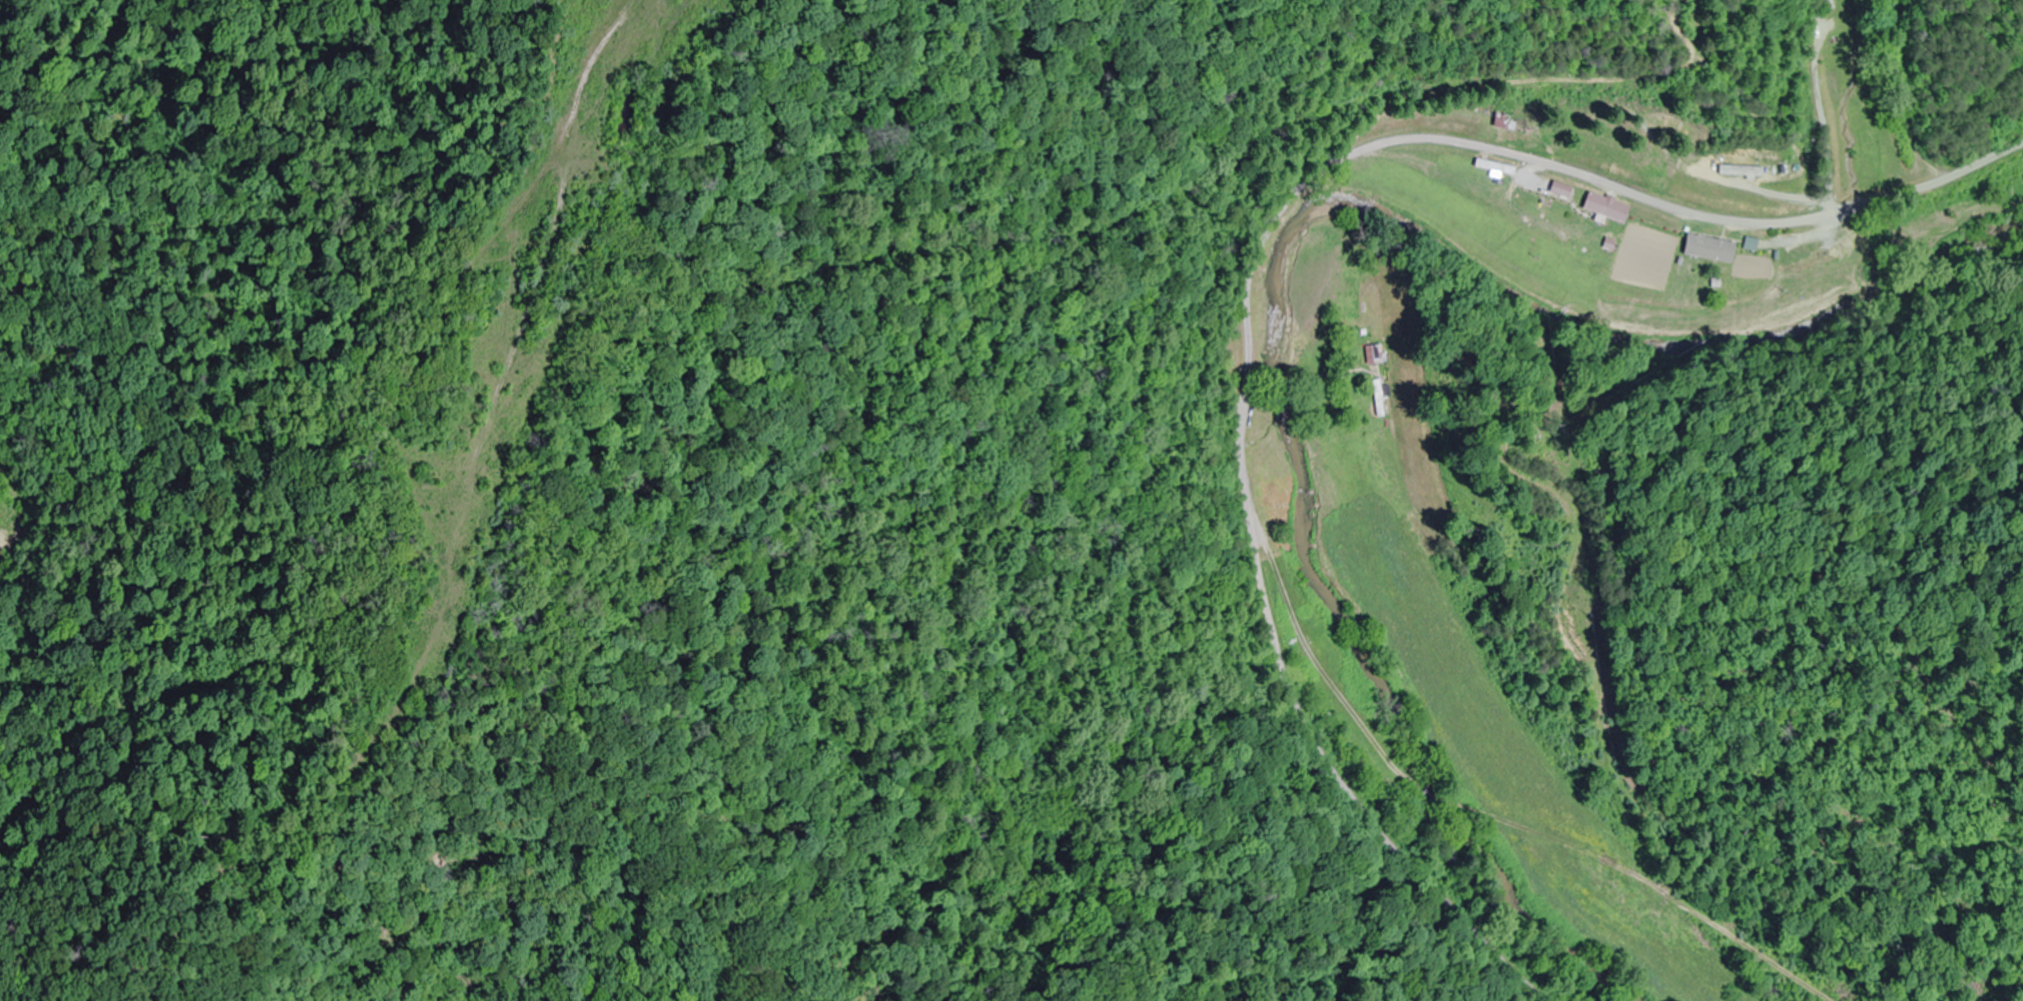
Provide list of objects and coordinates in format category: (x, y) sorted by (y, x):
building: (1498, 121)
building: (1733, 171)
building: (1603, 207)
building: (1653, 234)
building: (1756, 244)
building: (1704, 249)
road: (1251, 254)
building: (1377, 354)
building: (1384, 397)

